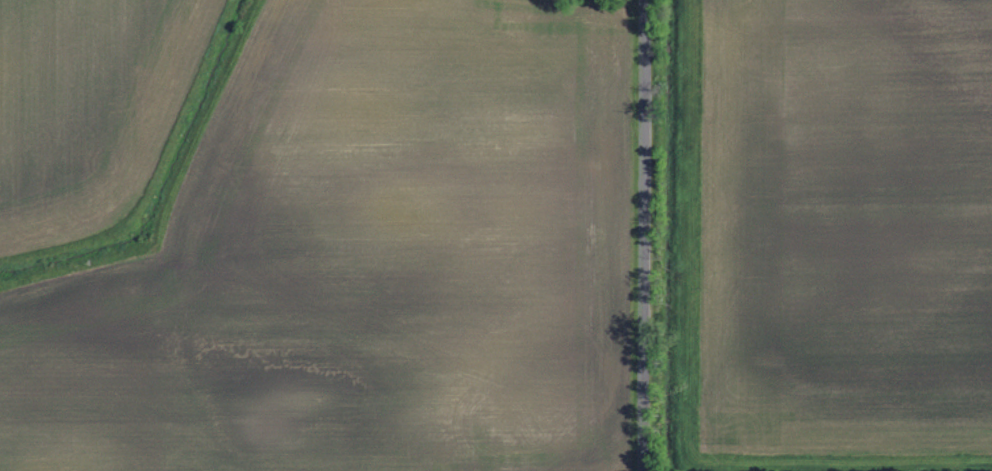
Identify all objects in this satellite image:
road: (645, 235)

